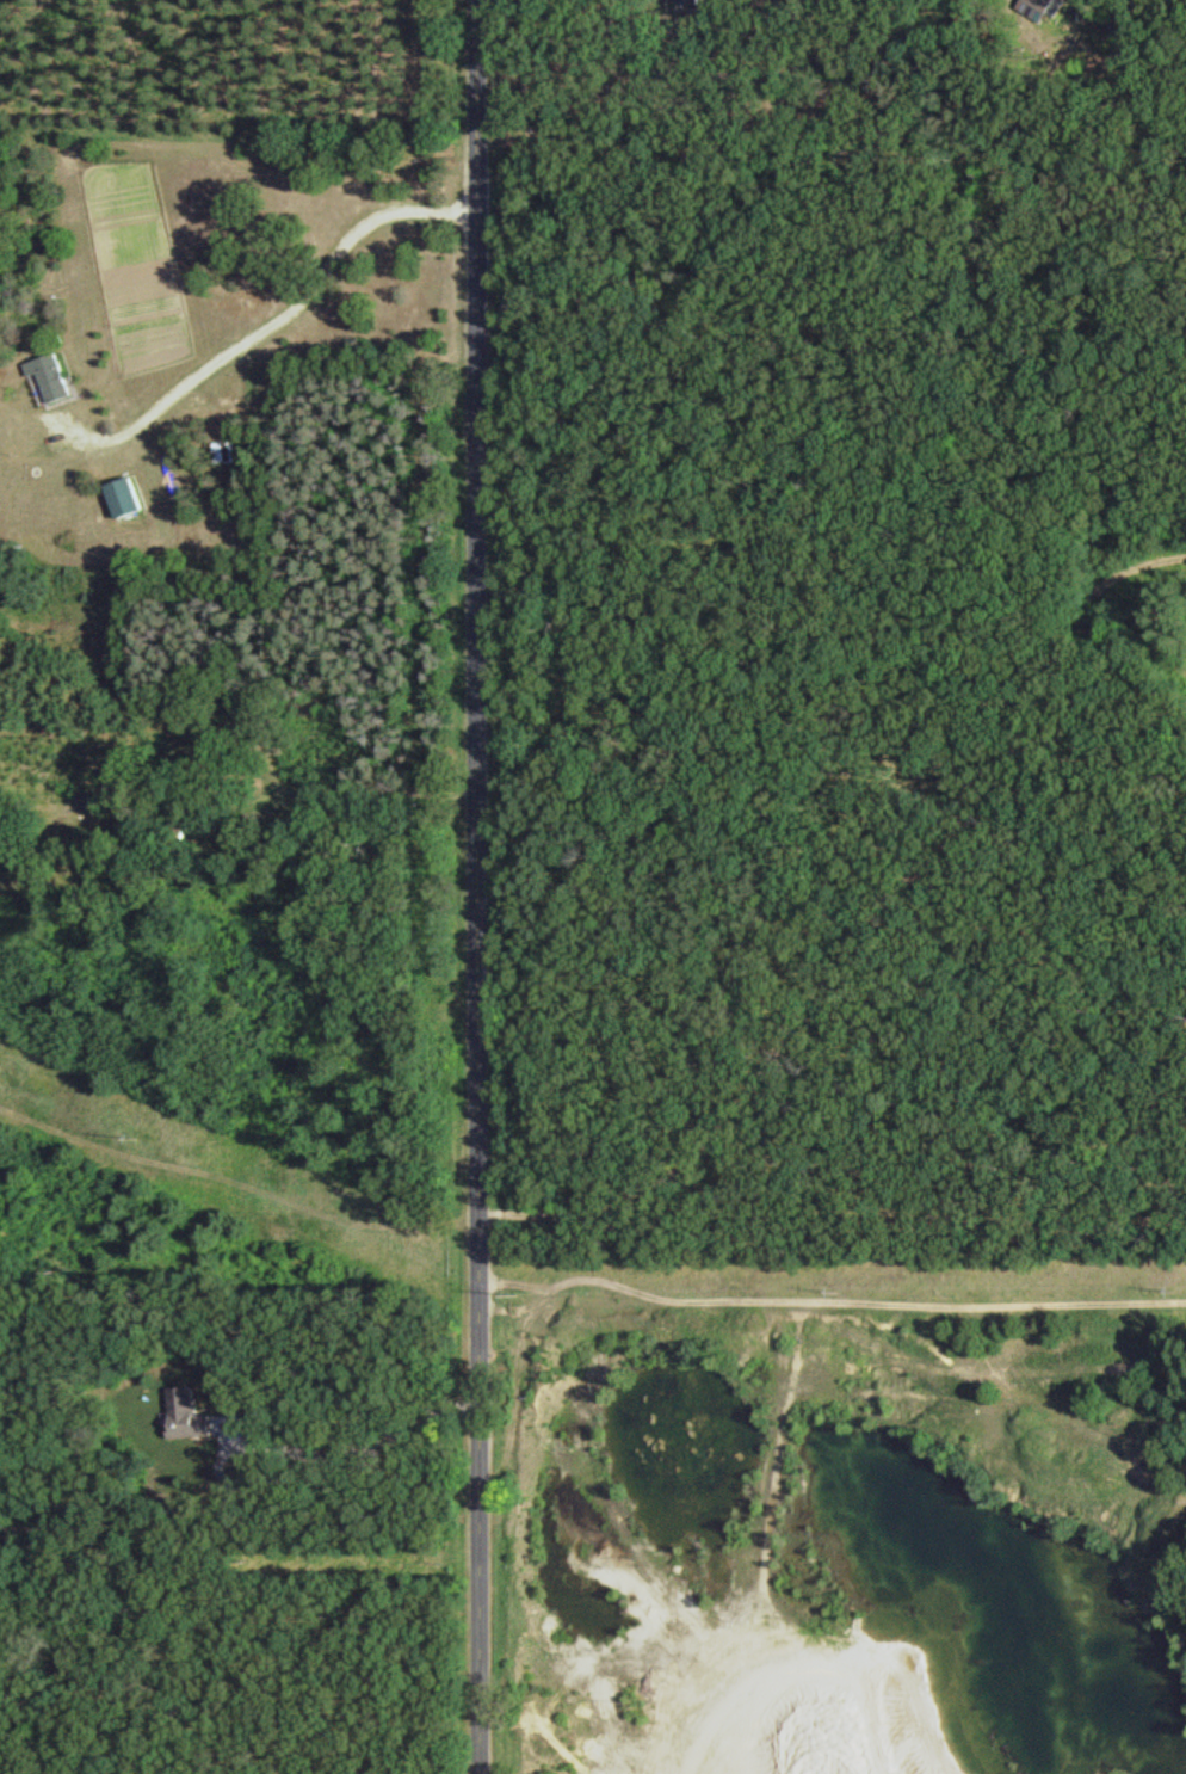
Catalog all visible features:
road: (279, 318)
building: (54, 378)
building: (227, 450)
building: (130, 497)
road: (484, 886)
building: (192, 1413)
road: (363, 1445)
quarry: (816, 1547)
quarry: (1085, 1769)

